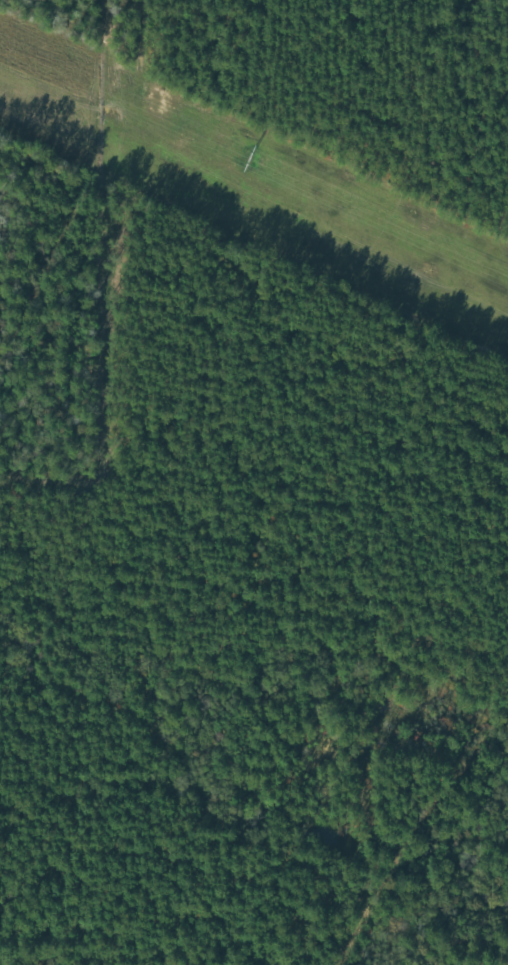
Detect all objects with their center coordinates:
power tower: (246, 152)

